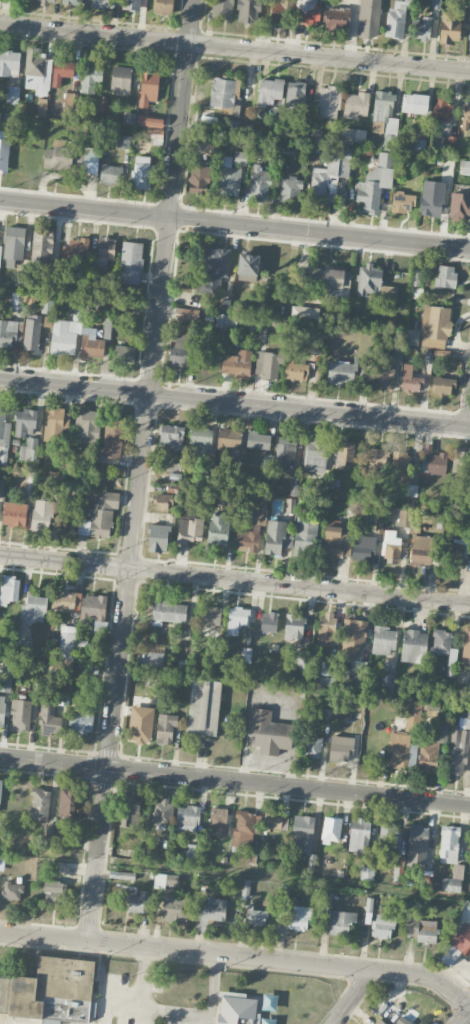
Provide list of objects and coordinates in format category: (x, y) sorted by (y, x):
building: (47, 2)
building: (72, 2)
building: (103, 3)
building: (436, 4)
building: (131, 5)
building: (163, 6)
building: (222, 9)
building: (248, 11)
building: (279, 11)
building: (307, 12)
building: (369, 18)
building: (337, 19)
building: (397, 20)
building: (450, 27)
building: (421, 29)
road: (234, 47)
building: (9, 63)
building: (62, 70)
building: (37, 72)
building: (91, 77)
building: (120, 79)
building: (148, 87)
building: (270, 92)
building: (295, 93)
building: (12, 94)
building: (69, 99)
building: (328, 102)
building: (415, 103)
building: (356, 105)
building: (381, 109)
building: (441, 112)
building: (466, 115)
building: (150, 121)
building: (390, 129)
building: (353, 136)
building: (124, 141)
building: (445, 142)
building: (207, 146)
building: (418, 146)
building: (4, 154)
building: (63, 158)
building: (240, 158)
building: (465, 167)
building: (142, 172)
building: (110, 174)
building: (330, 175)
building: (229, 177)
building: (200, 179)
building: (259, 183)
building: (375, 183)
building: (290, 190)
building: (432, 198)
building: (403, 202)
building: (460, 206)
road: (234, 226)
building: (13, 245)
building: (42, 248)
building: (106, 248)
building: (75, 250)
building: (0, 252)
building: (131, 262)
building: (248, 267)
building: (214, 270)
building: (318, 272)
building: (445, 277)
building: (19, 280)
building: (338, 282)
building: (374, 284)
building: (416, 285)
building: (16, 301)
building: (78, 311)
building: (304, 312)
building: (186, 314)
building: (226, 321)
building: (431, 328)
building: (9, 332)
building: (32, 332)
building: (64, 336)
building: (91, 344)
building: (124, 353)
building: (179, 356)
building: (238, 364)
building: (268, 365)
building: (295, 370)
building: (342, 372)
building: (383, 377)
building: (410, 379)
building: (443, 385)
road: (235, 402)
building: (25, 422)
building: (57, 424)
building: (89, 427)
building: (172, 436)
building: (4, 437)
building: (113, 437)
building: (200, 439)
building: (229, 439)
building: (258, 440)
building: (29, 450)
building: (315, 453)
building: (345, 454)
building: (285, 457)
building: (377, 459)
building: (433, 463)
building: (460, 464)
building: (401, 468)
building: (267, 469)
road: (142, 471)
building: (411, 490)
building: (164, 501)
building: (14, 514)
building: (43, 515)
building: (100, 516)
building: (405, 518)
building: (191, 525)
building: (219, 529)
building: (251, 532)
building: (276, 537)
building: (158, 538)
building: (305, 538)
building: (335, 541)
building: (391, 545)
building: (362, 547)
building: (420, 550)
building: (454, 551)
road: (235, 578)
building: (9, 588)
building: (66, 600)
building: (34, 608)
building: (92, 608)
building: (168, 612)
building: (209, 615)
building: (237, 617)
building: (269, 622)
building: (294, 626)
building: (326, 632)
building: (353, 636)
building: (383, 640)
building: (67, 643)
building: (443, 643)
building: (466, 645)
building: (414, 646)
building: (24, 649)
building: (151, 660)
building: (302, 662)
building: (89, 670)
building: (358, 672)
building: (387, 682)
building: (469, 691)
building: (204, 707)
building: (2, 709)
building: (433, 709)
building: (413, 712)
building: (20, 714)
building: (49, 718)
building: (81, 721)
building: (141, 724)
building: (165, 728)
building: (269, 733)
building: (313, 746)
building: (459, 747)
building: (341, 748)
building: (402, 750)
building: (432, 750)
road: (235, 780)
building: (0, 789)
building: (68, 802)
building: (39, 804)
building: (162, 812)
building: (130, 815)
building: (187, 818)
building: (218, 820)
building: (276, 821)
building: (243, 829)
building: (303, 833)
building: (359, 835)
building: (389, 839)
building: (449, 844)
building: (417, 845)
building: (367, 862)
building: (367, 873)
building: (453, 880)
building: (160, 881)
building: (12, 890)
building: (54, 892)
building: (329, 899)
building: (138, 903)
building: (172, 907)
building: (212, 909)
building: (256, 916)
building: (299, 918)
building: (337, 921)
building: (383, 926)
building: (422, 930)
building: (457, 946)
road: (238, 956)
building: (51, 990)
road: (354, 996)
building: (236, 1008)
building: (402, 1021)
road: (468, 1021)
building: (379, 1022)

